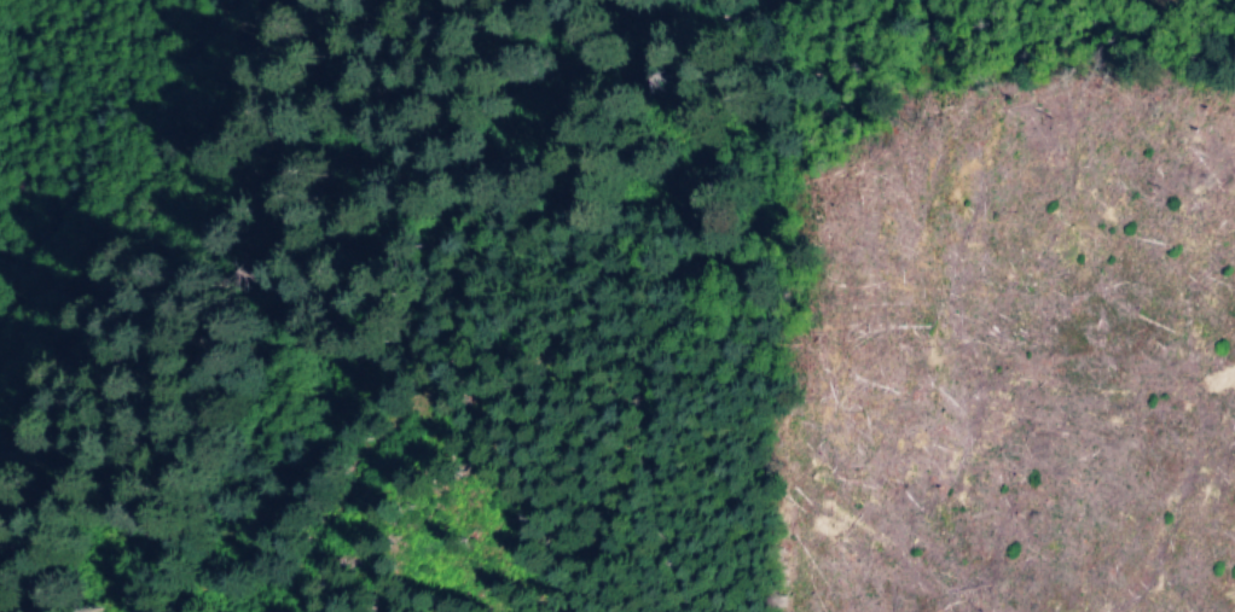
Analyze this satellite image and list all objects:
road: (131, 198)
road: (292, 564)

